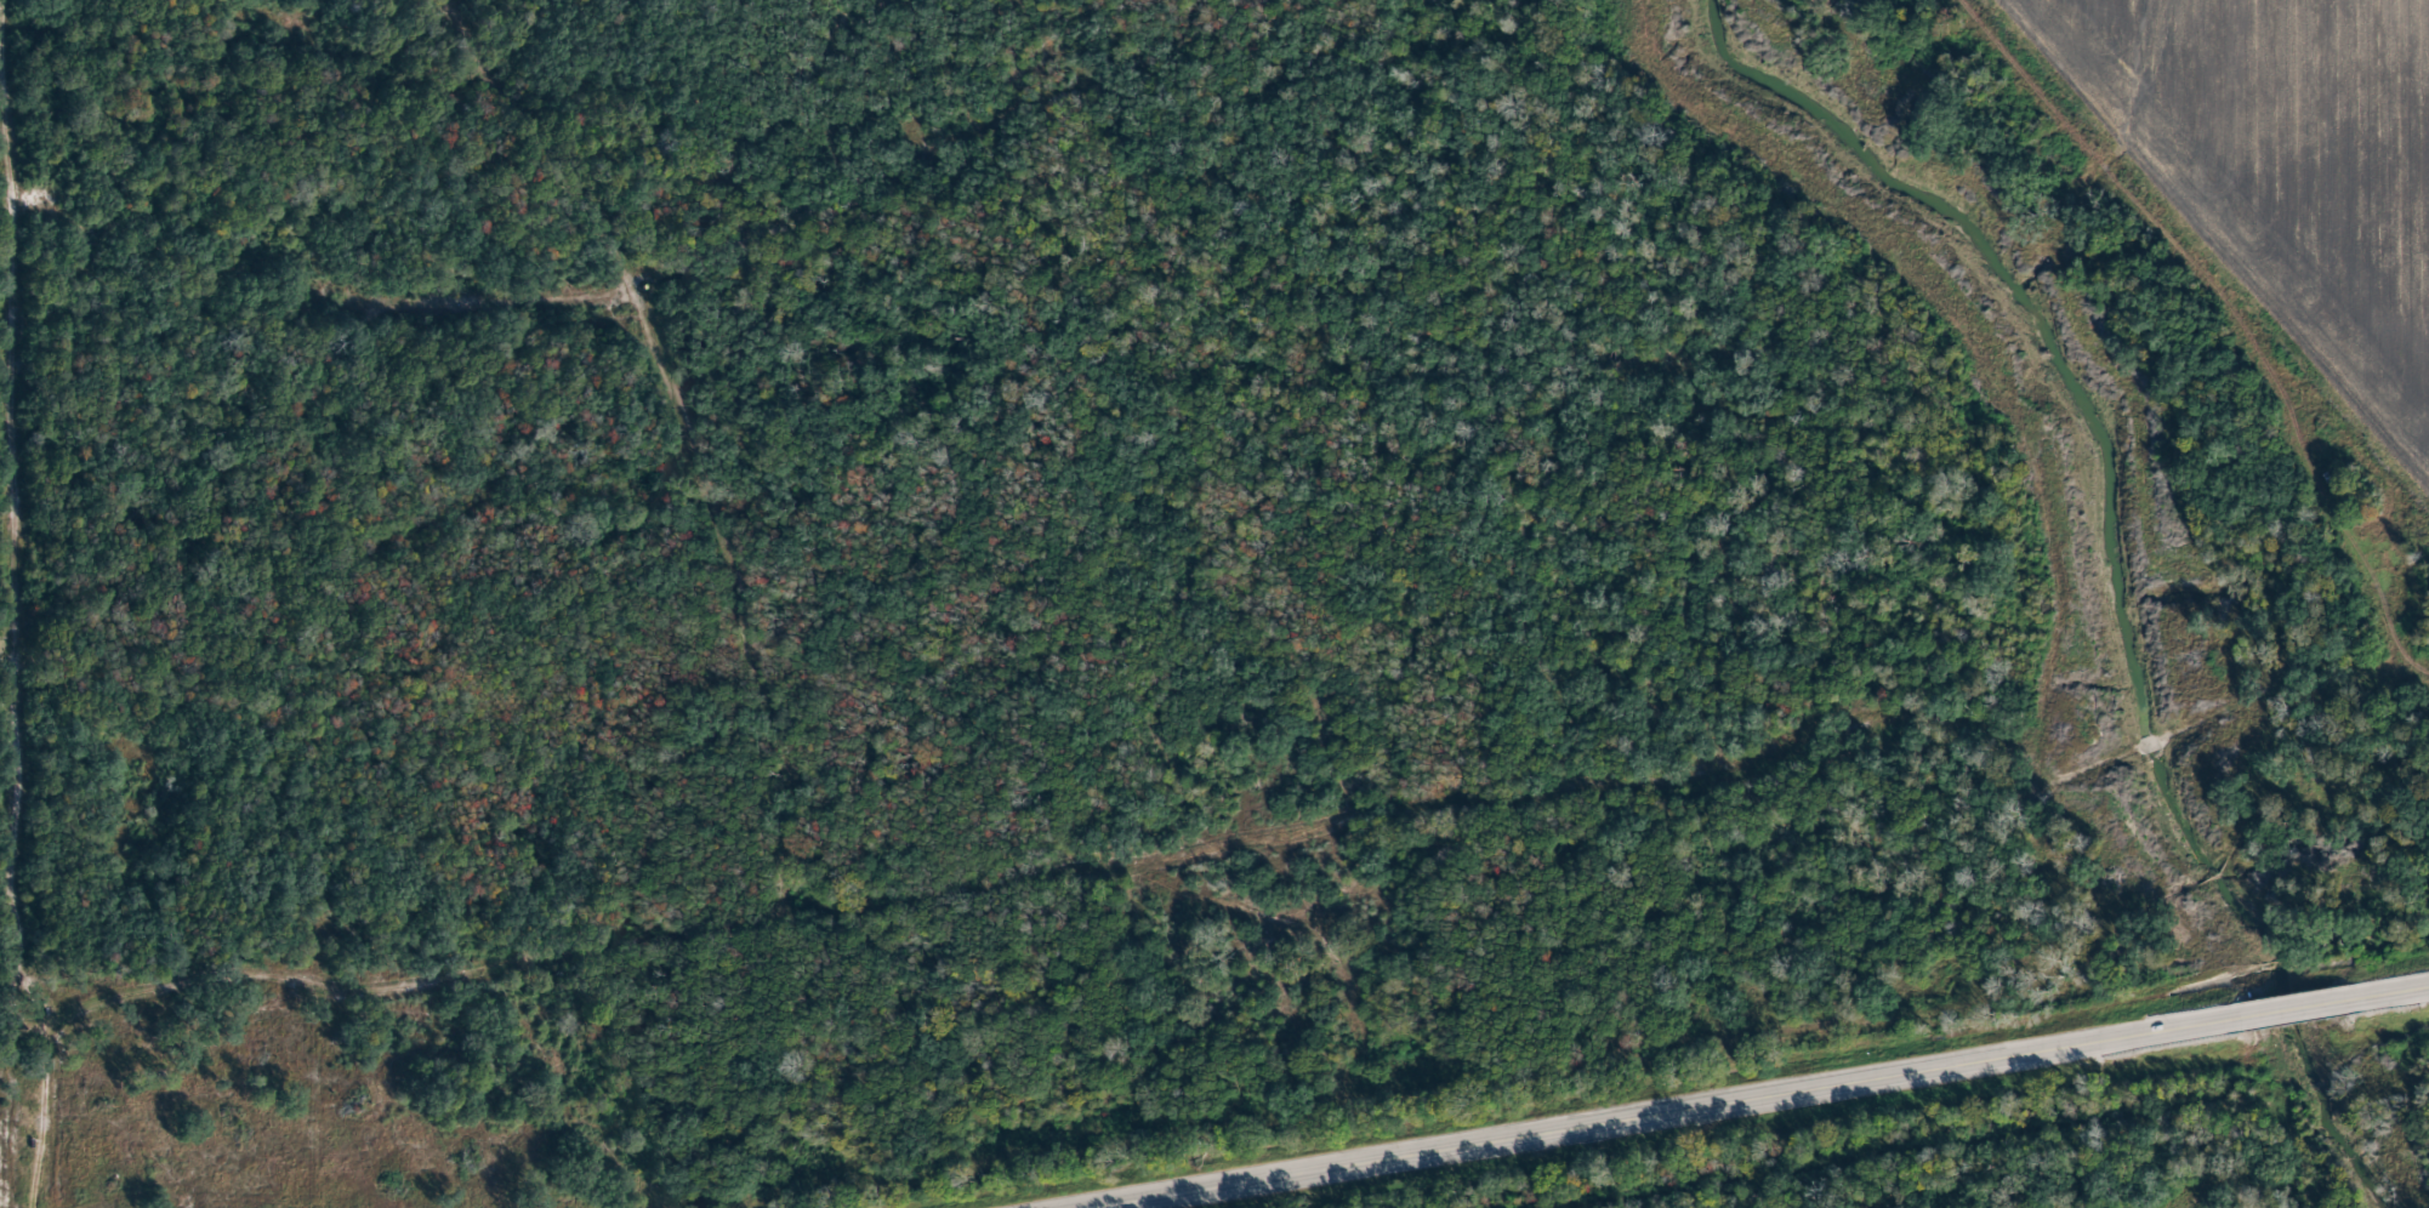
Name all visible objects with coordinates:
road: (1763, 1094)
railway: (1970, 1132)

